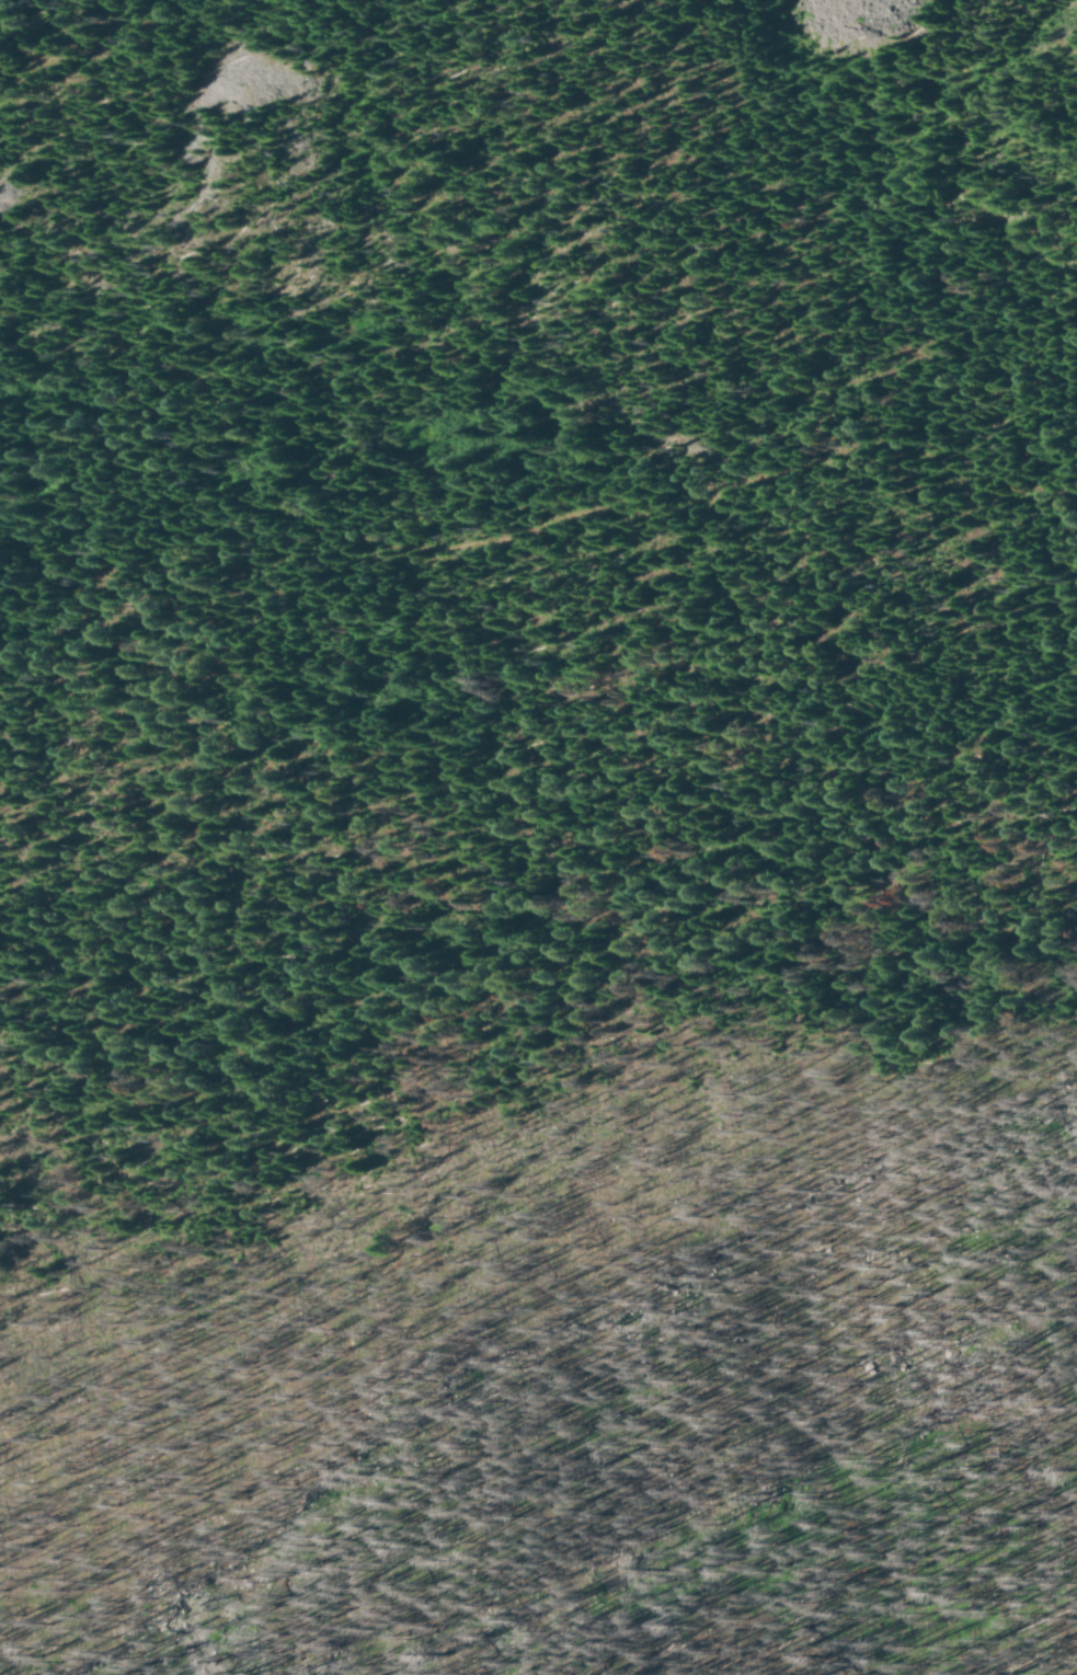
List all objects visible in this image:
road: (55, 90)
road: (586, 509)

